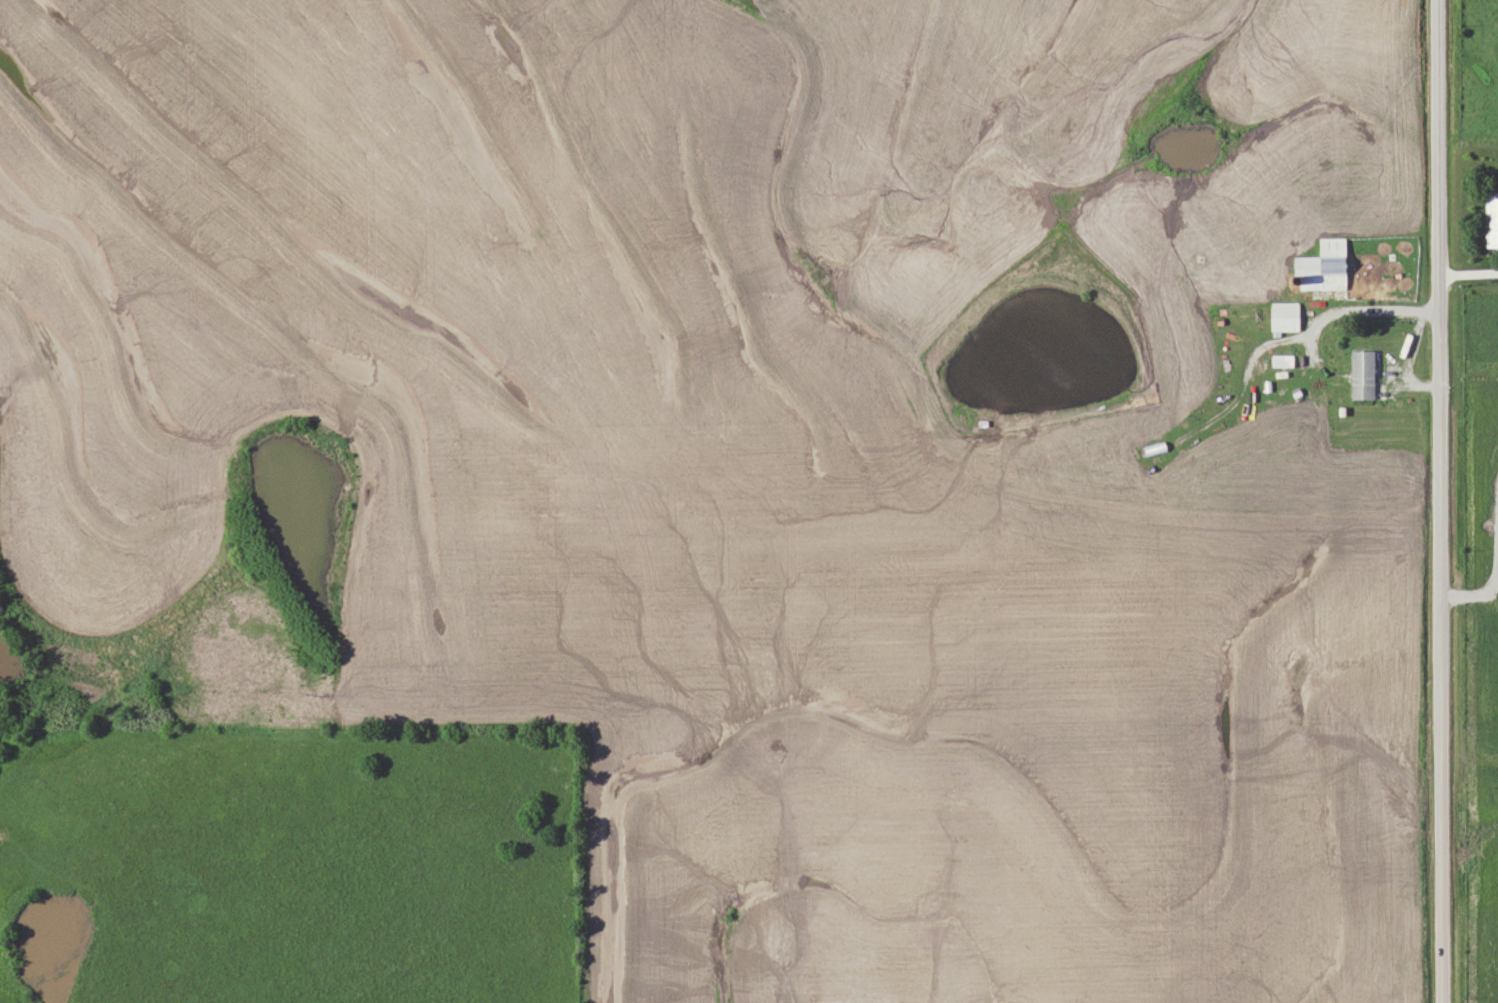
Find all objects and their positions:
building: (1491, 222)
building: (1322, 267)
road: (1466, 273)
building: (1284, 316)
road: (1335, 316)
building: (1282, 360)
building: (1362, 374)
building: (1154, 448)
road: (1437, 501)

